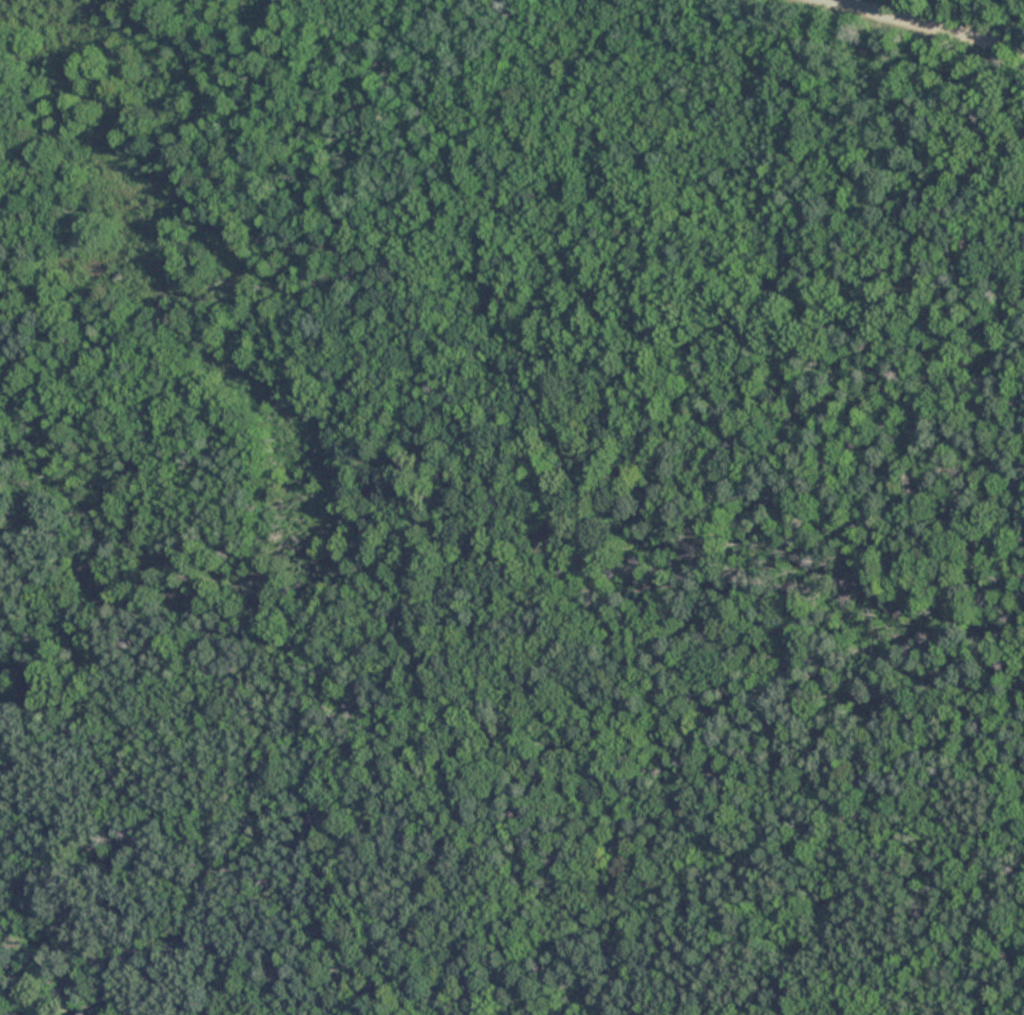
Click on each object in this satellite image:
road: (922, 26)
park: (512, 507)

